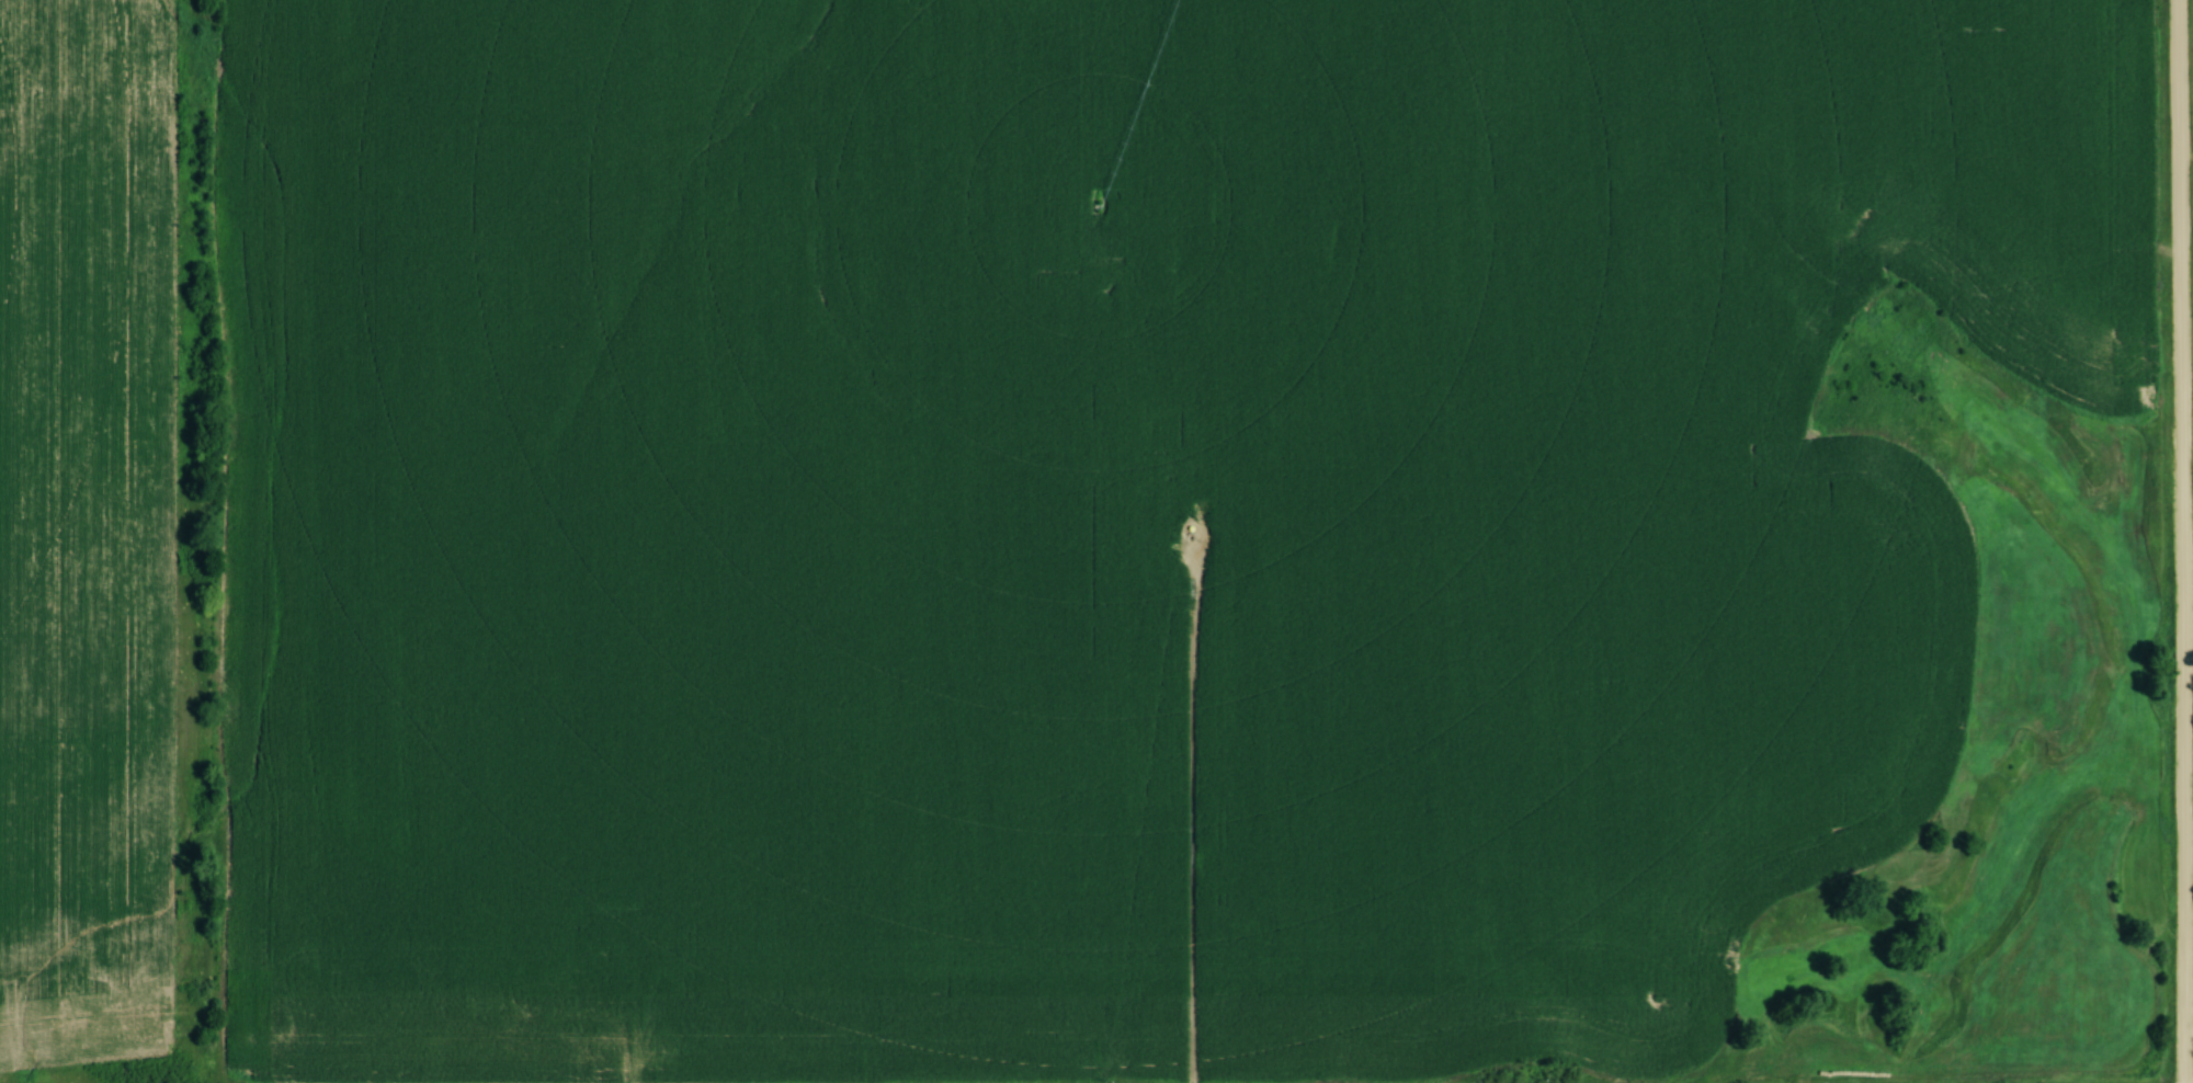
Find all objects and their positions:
road: (2181, 541)

